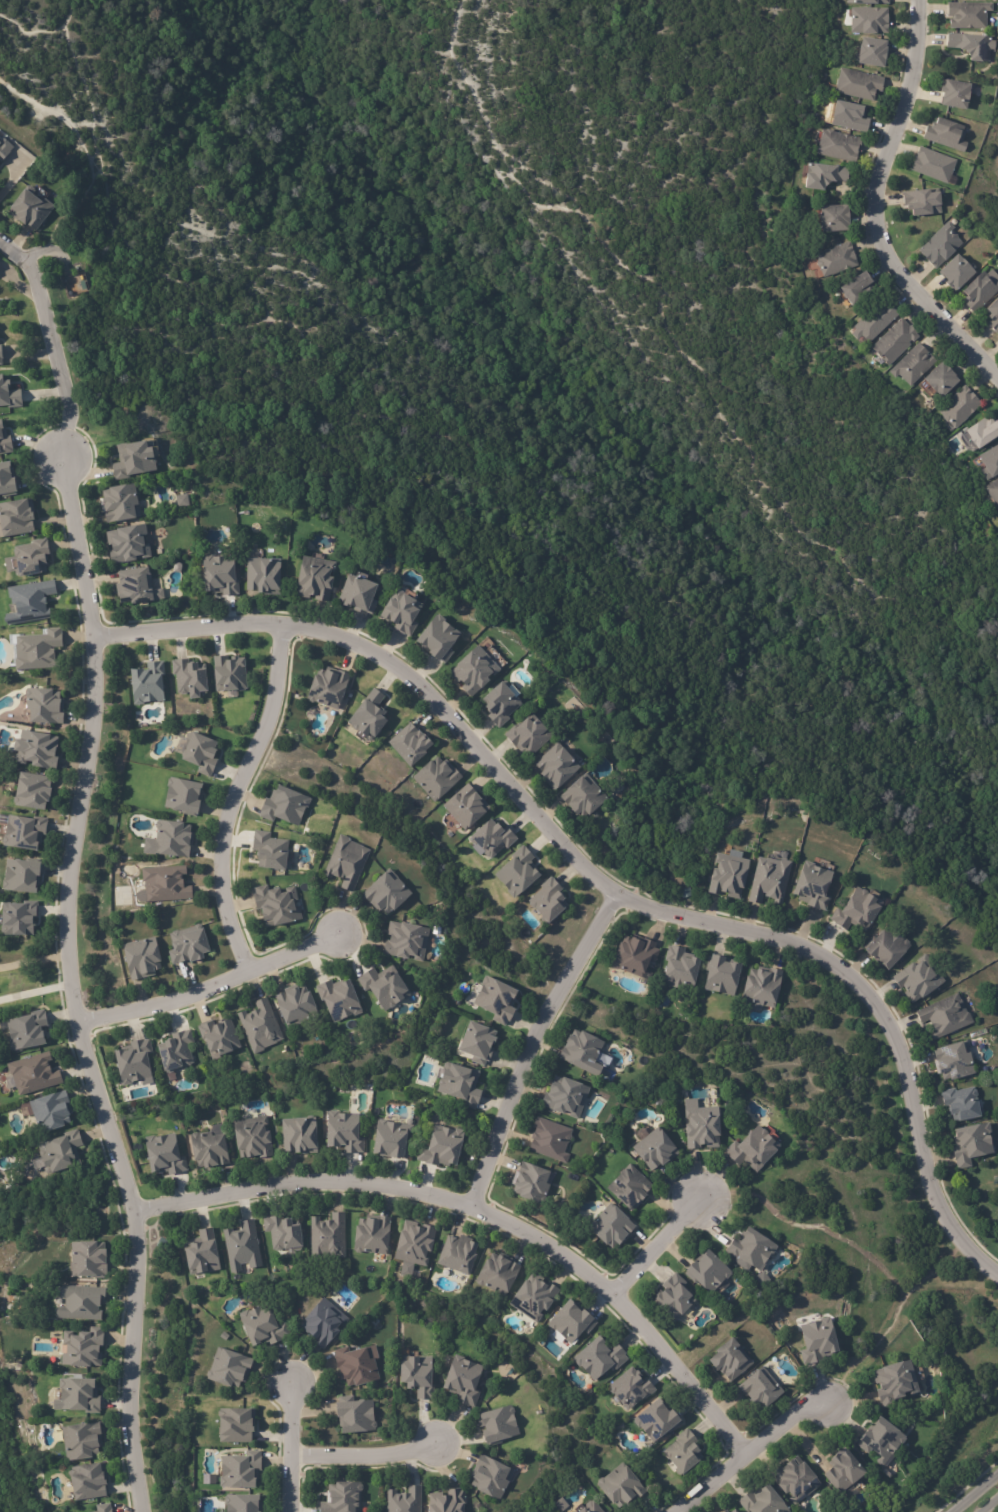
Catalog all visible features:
building: (867, 1)
building: (967, 14)
building: (868, 19)
building: (971, 44)
building: (870, 51)
building: (857, 83)
building: (954, 93)
building: (848, 116)
building: (945, 134)
building: (3, 145)
building: (837, 145)
building: (932, 165)
building: (822, 174)
building: (921, 202)
building: (26, 205)
road: (875, 210)
building: (831, 217)
building: (940, 245)
road: (47, 252)
building: (835, 259)
building: (954, 272)
building: (855, 288)
building: (979, 290)
building: (993, 315)
building: (873, 322)
building: (997, 338)
building: (894, 341)
road: (51, 344)
building: (1, 355)
building: (912, 364)
building: (939, 379)
building: (9, 395)
building: (958, 407)
building: (982, 432)
building: (4, 440)
building: (134, 459)
building: (989, 463)
building: (6, 481)
building: (993, 492)
building: (120, 504)
building: (14, 516)
building: (126, 542)
building: (30, 555)
building: (261, 575)
building: (219, 576)
building: (315, 580)
building: (132, 585)
building: (357, 593)
building: (27, 601)
building: (400, 609)
building: (436, 638)
building: (37, 650)
building: (472, 669)
building: (229, 675)
building: (189, 677)
building: (146, 683)
building: (327, 687)
building: (500, 703)
building: (44, 708)
building: (368, 716)
building: (527, 736)
building: (409, 744)
building: (34, 748)
building: (197, 752)
building: (557, 765)
building: (436, 778)
building: (32, 790)
building: (181, 795)
building: (582, 797)
road: (232, 798)
building: (283, 804)
building: (465, 806)
building: (21, 830)
building: (172, 837)
building: (490, 839)
building: (269, 850)
building: (346, 862)
building: (518, 872)
building: (18, 874)
road: (600, 875)
building: (726, 875)
building: (768, 879)
building: (163, 883)
building: (811, 885)
building: (684, 892)
building: (385, 895)
building: (546, 901)
building: (275, 905)
building: (856, 909)
building: (18, 918)
building: (405, 940)
building: (187, 944)
building: (886, 947)
building: (632, 954)
building: (141, 957)
road: (33, 961)
building: (679, 969)
building: (721, 976)
building: (917, 978)
road: (216, 986)
building: (383, 986)
building: (760, 986)
road: (70, 987)
road: (34, 991)
building: (337, 999)
building: (496, 1001)
building: (295, 1005)
building: (944, 1015)
building: (259, 1025)
building: (28, 1029)
building: (216, 1036)
building: (475, 1042)
road: (538, 1043)
building: (579, 1049)
building: (174, 1050)
building: (953, 1060)
building: (133, 1062)
building: (30, 1073)
building: (458, 1084)
building: (564, 1097)
building: (961, 1103)
building: (50, 1110)
building: (702, 1127)
building: (341, 1132)
building: (299, 1136)
building: (250, 1138)
building: (388, 1140)
building: (548, 1140)
building: (970, 1143)
building: (440, 1146)
building: (207, 1148)
building: (653, 1148)
building: (752, 1148)
building: (56, 1151)
building: (163, 1155)
building: (533, 1185)
building: (628, 1187)
road: (484, 1212)
building: (609, 1227)
building: (282, 1233)
building: (327, 1236)
building: (371, 1236)
building: (160, 1243)
building: (413, 1243)
building: (241, 1246)
road: (657, 1248)
building: (749, 1249)
building: (200, 1252)
building: (457, 1255)
building: (87, 1259)
building: (705, 1272)
building: (497, 1274)
building: (673, 1298)
building: (530, 1299)
building: (79, 1303)
building: (321, 1322)
building: (571, 1322)
building: (260, 1327)
building: (817, 1341)
building: (81, 1348)
building: (599, 1357)
building: (728, 1360)
building: (355, 1365)
building: (227, 1369)
building: (416, 1376)
building: (460, 1381)
building: (893, 1381)
building: (629, 1389)
building: (759, 1389)
building: (76, 1396)
building: (353, 1416)
building: (656, 1421)
building: (497, 1425)
building: (233, 1426)
building: (880, 1439)
building: (79, 1441)
road: (285, 1442)
road: (360, 1443)
road: (753, 1449)
building: (682, 1453)
building: (843, 1469)
building: (238, 1471)
building: (488, 1478)
building: (794, 1479)
building: (86, 1482)
building: (618, 1486)
road: (972, 1491)
building: (340, 1498)
building: (402, 1500)
building: (762, 1501)
building: (446, 1502)
building: (239, 1504)
road: (990, 1505)
building: (102, 1508)
building: (587, 1508)
building: (725, 1511)
building: (734, 1511)

